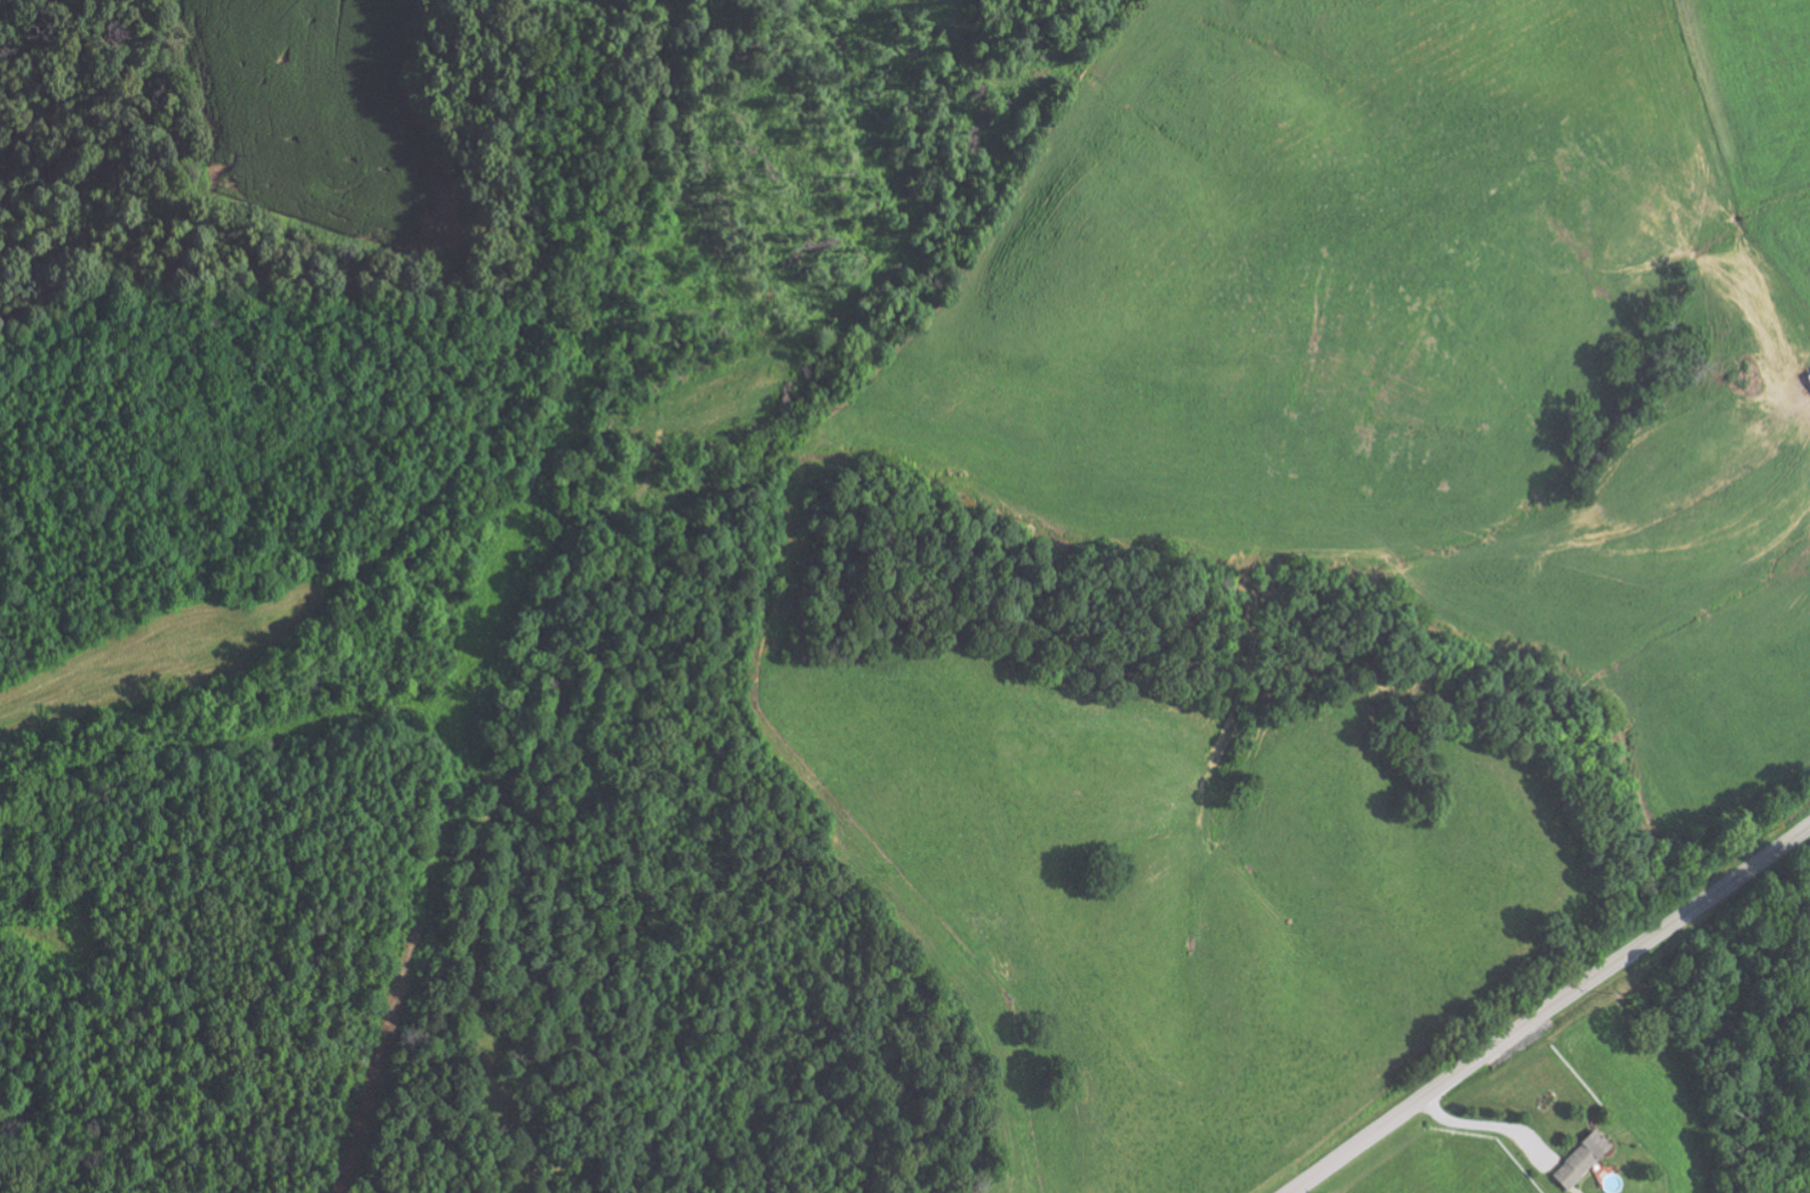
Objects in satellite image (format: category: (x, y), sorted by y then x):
building: (1806, 379)
road: (1549, 1009)
building: (1577, 1159)

